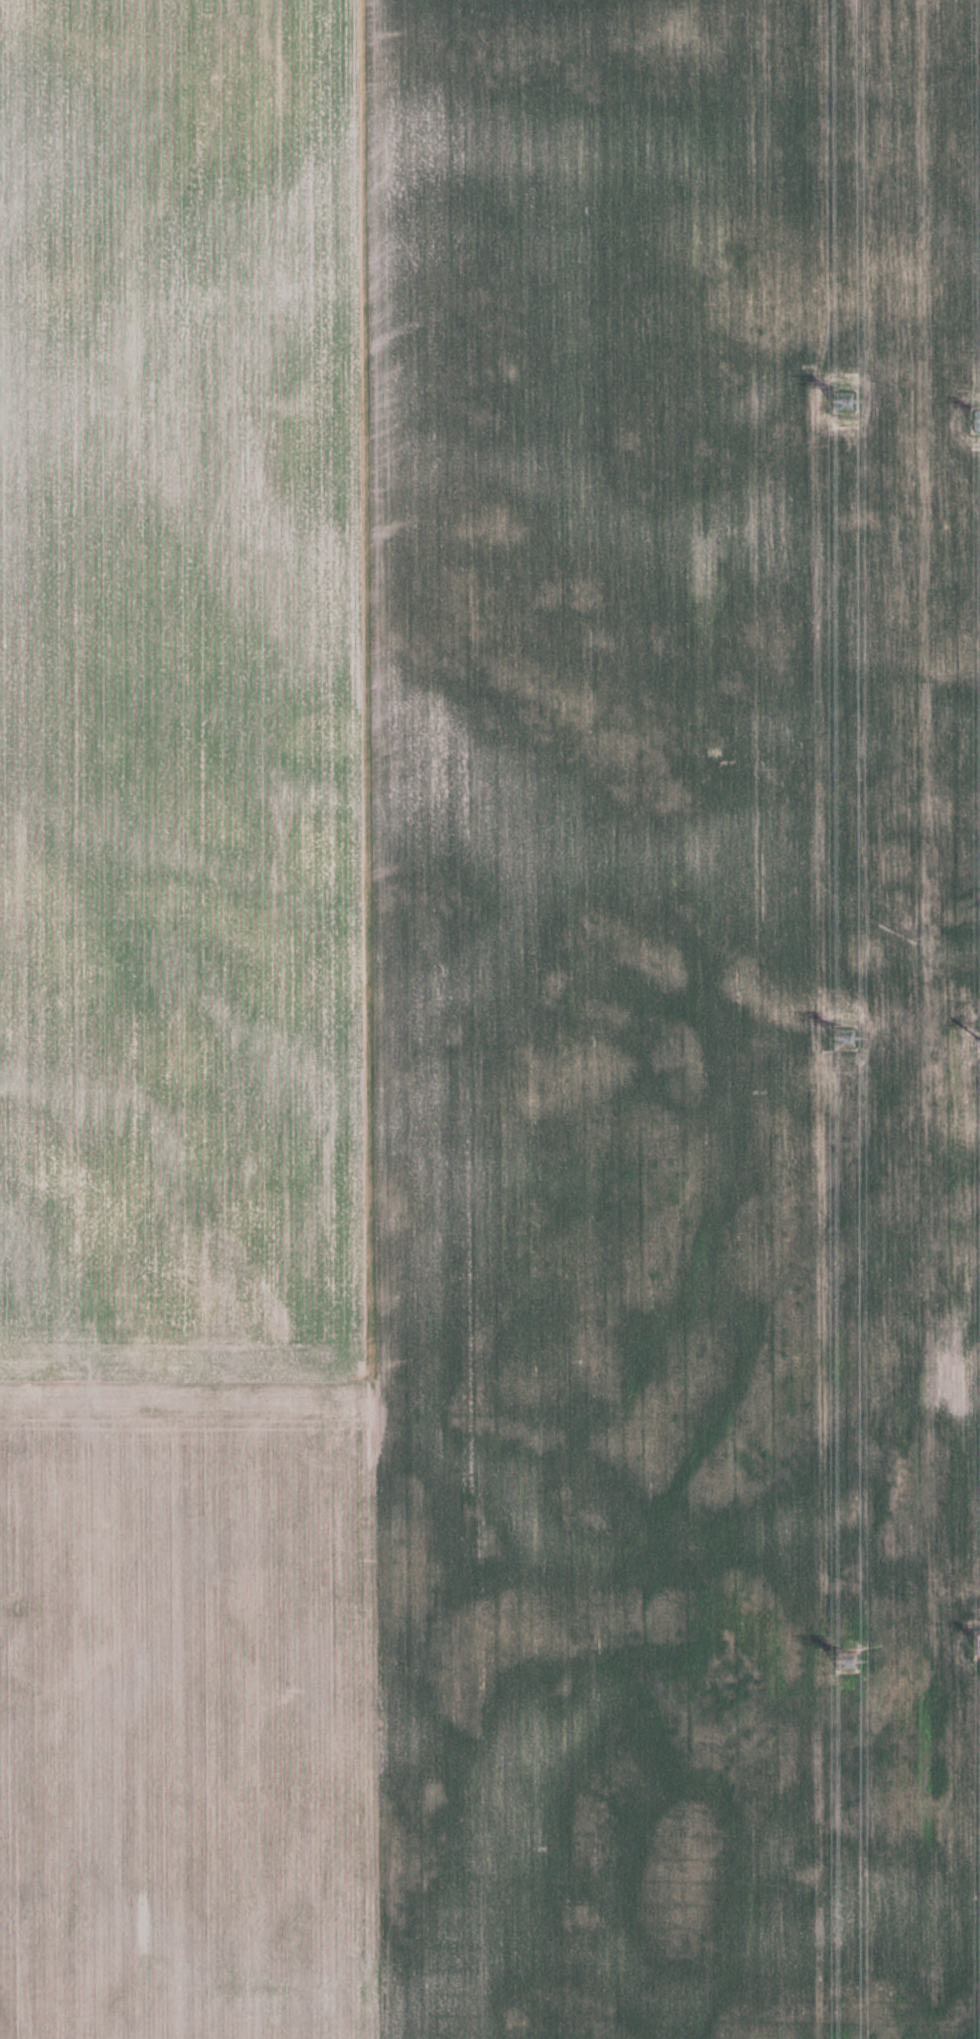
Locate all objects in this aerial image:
power tower: (842, 400)
power tower: (842, 1038)
power tower: (844, 1664)

